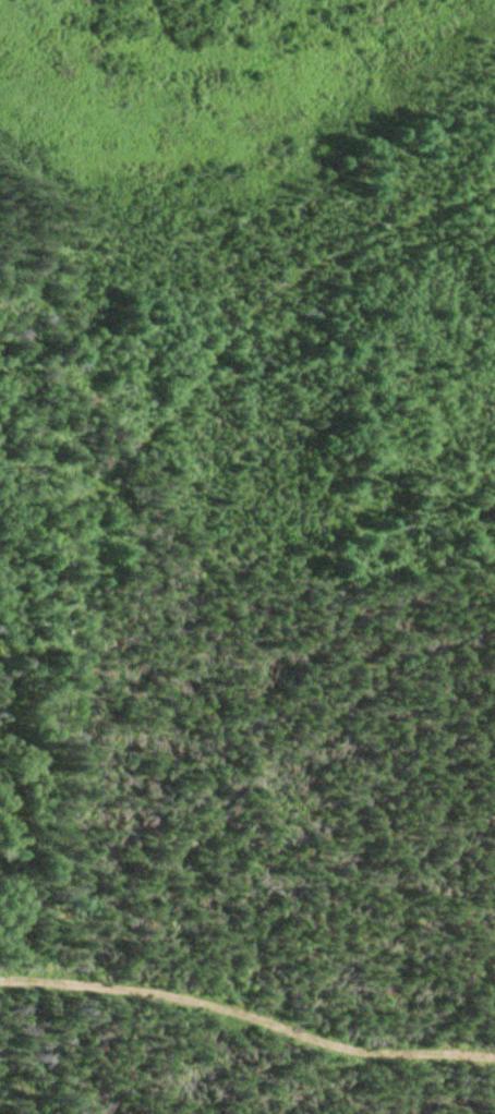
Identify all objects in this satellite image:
road: (243, 362)
road: (247, 1008)

